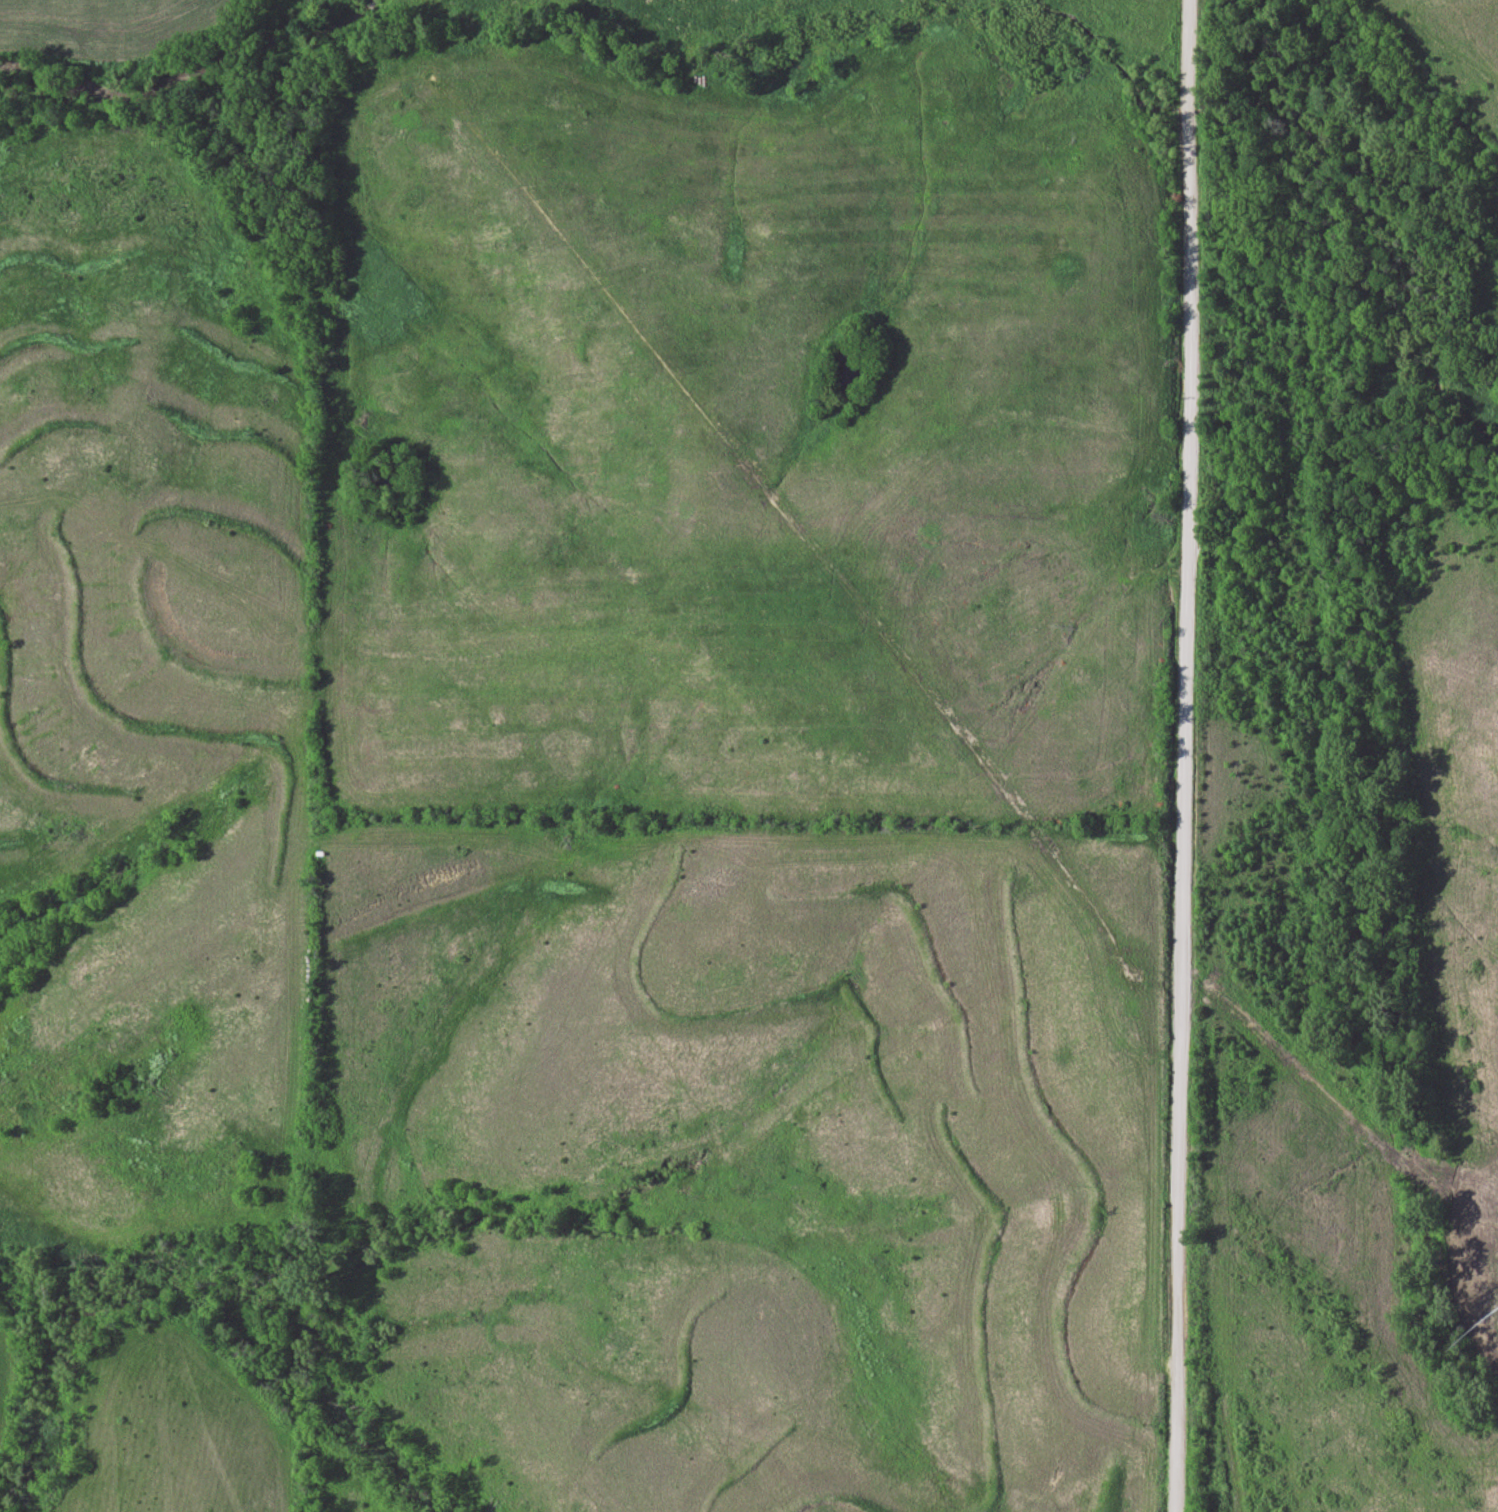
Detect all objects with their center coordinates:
road: (1181, 756)

